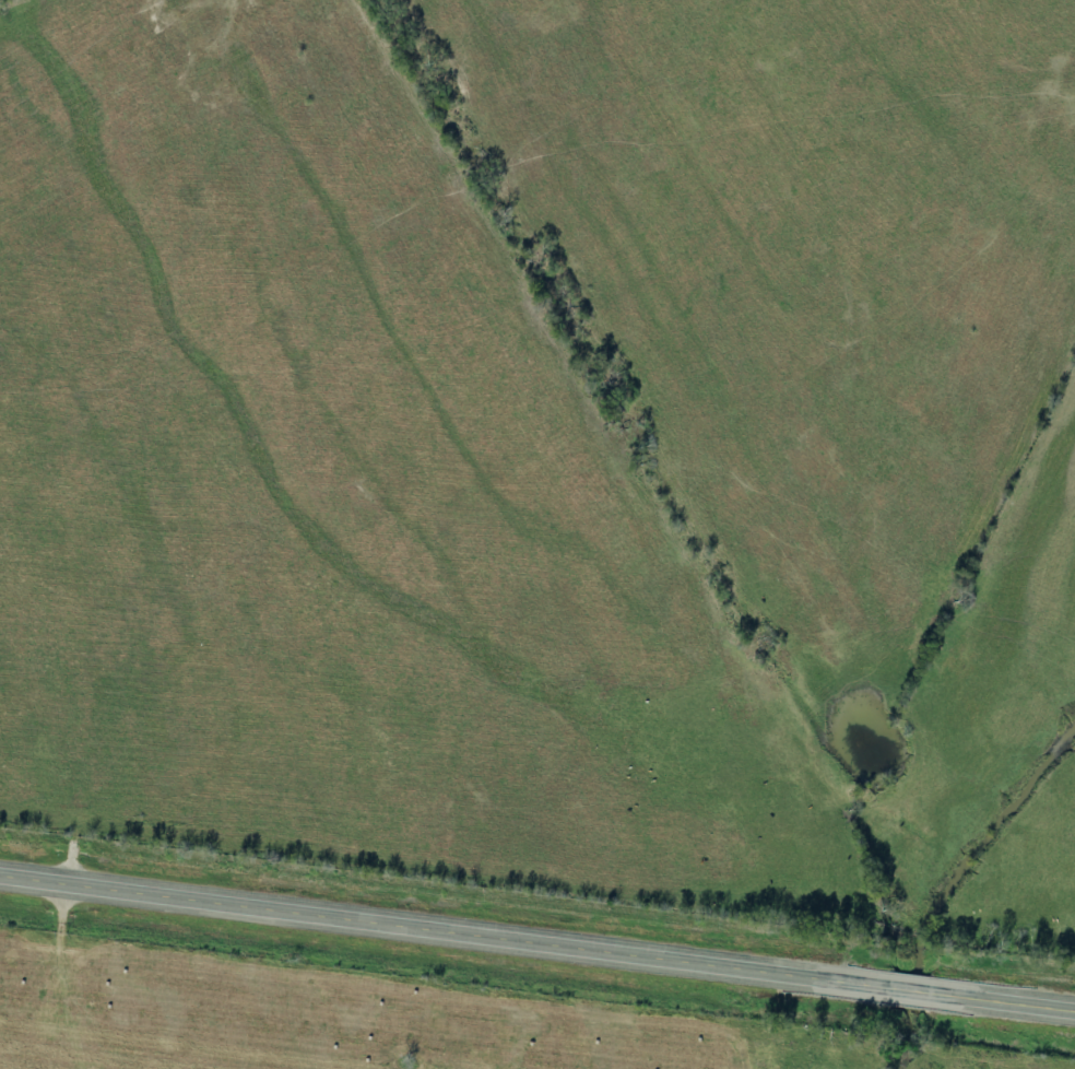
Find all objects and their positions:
road: (537, 929)

